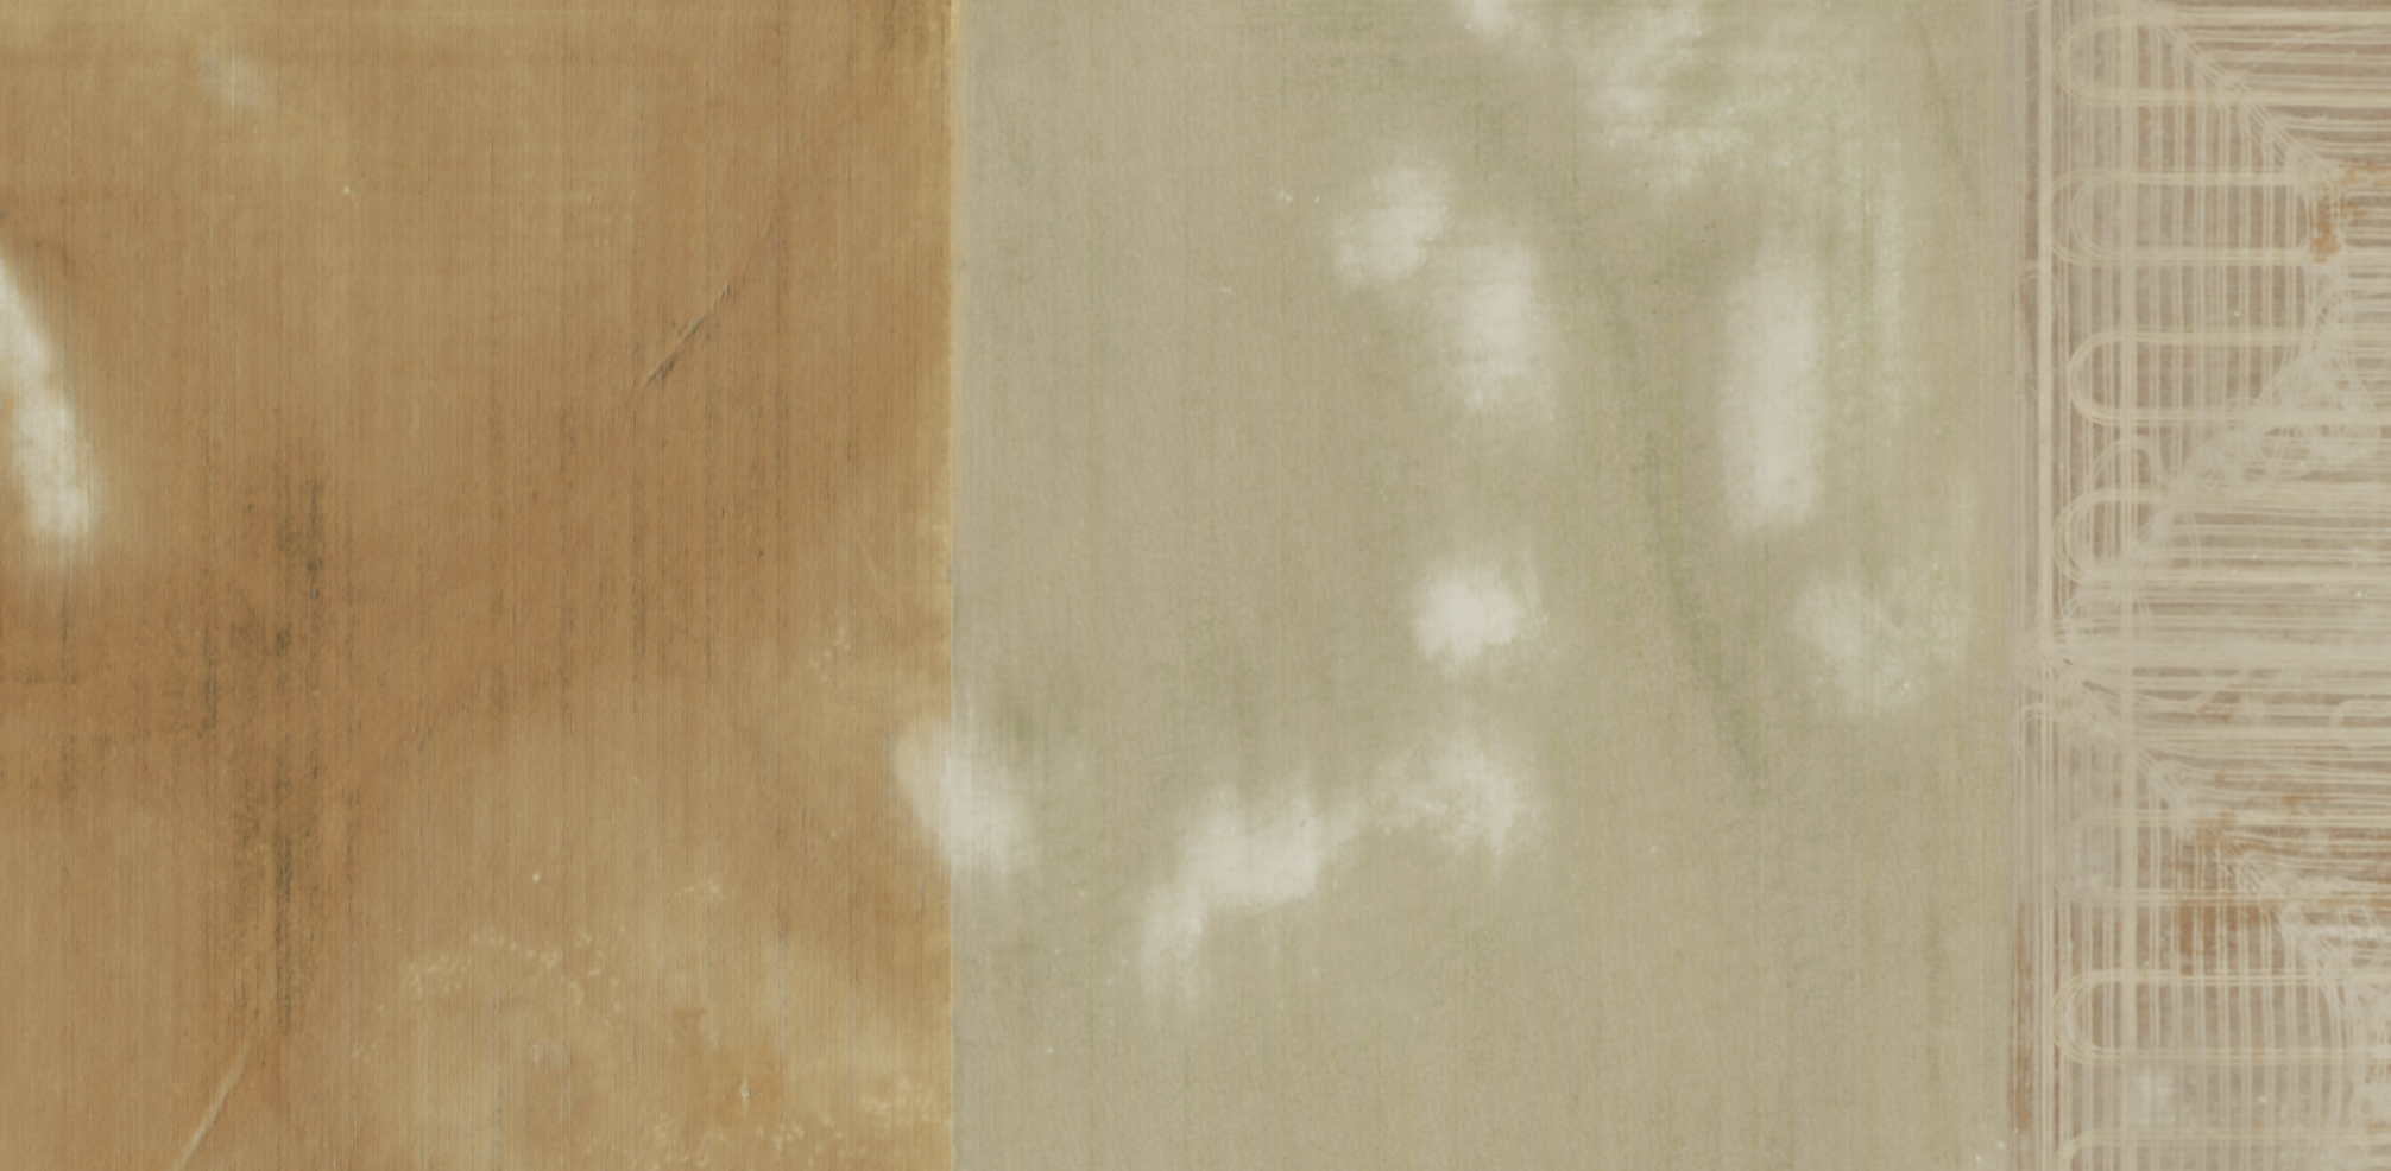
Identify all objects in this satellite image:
crop: (1195, 585)

